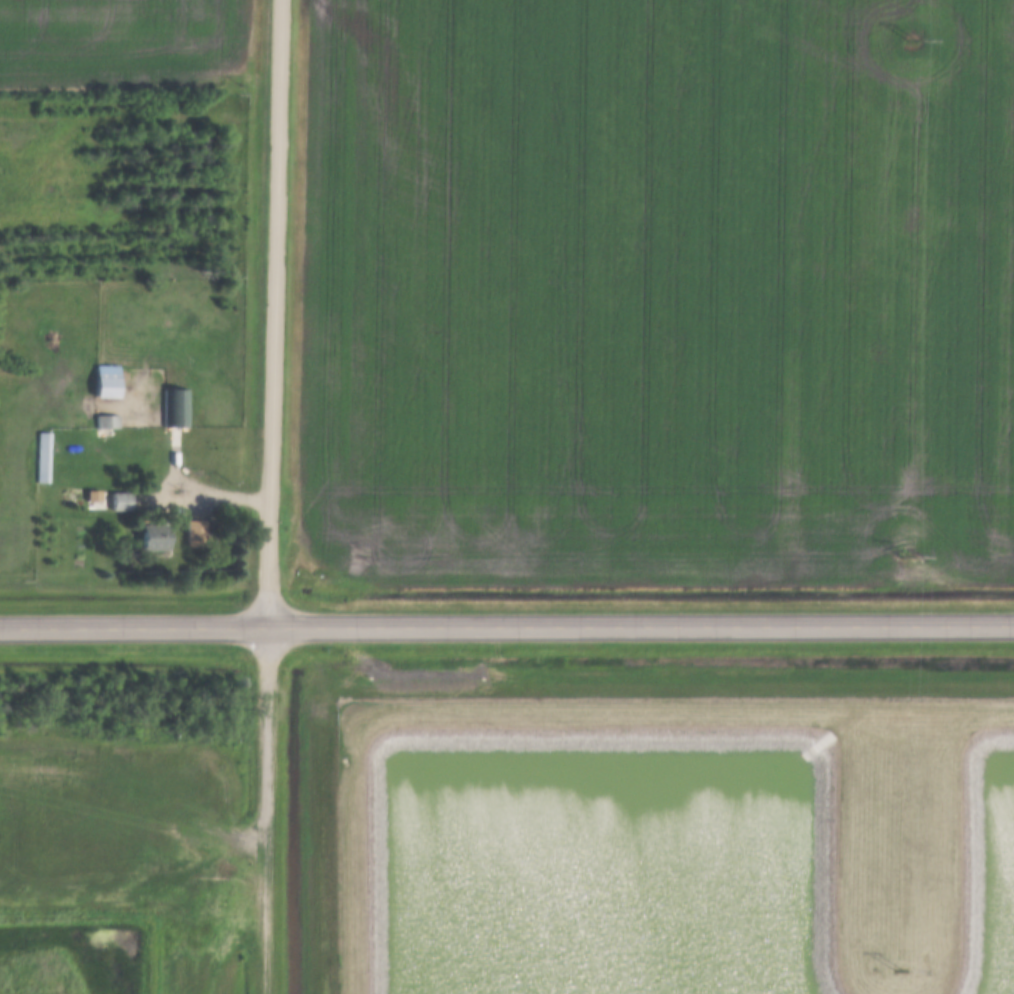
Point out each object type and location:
power tower: (910, 37)
crop: (117, 44)
crop: (657, 291)
road: (270, 313)
building: (102, 381)
building: (174, 407)
building: (104, 421)
building: (40, 457)
road: (217, 498)
building: (93, 499)
building: (195, 524)
building: (149, 537)
power tower: (902, 555)
road: (640, 627)
road: (133, 628)
road: (546, 708)
road: (266, 811)
crop: (20, 897)
power tower: (895, 973)

